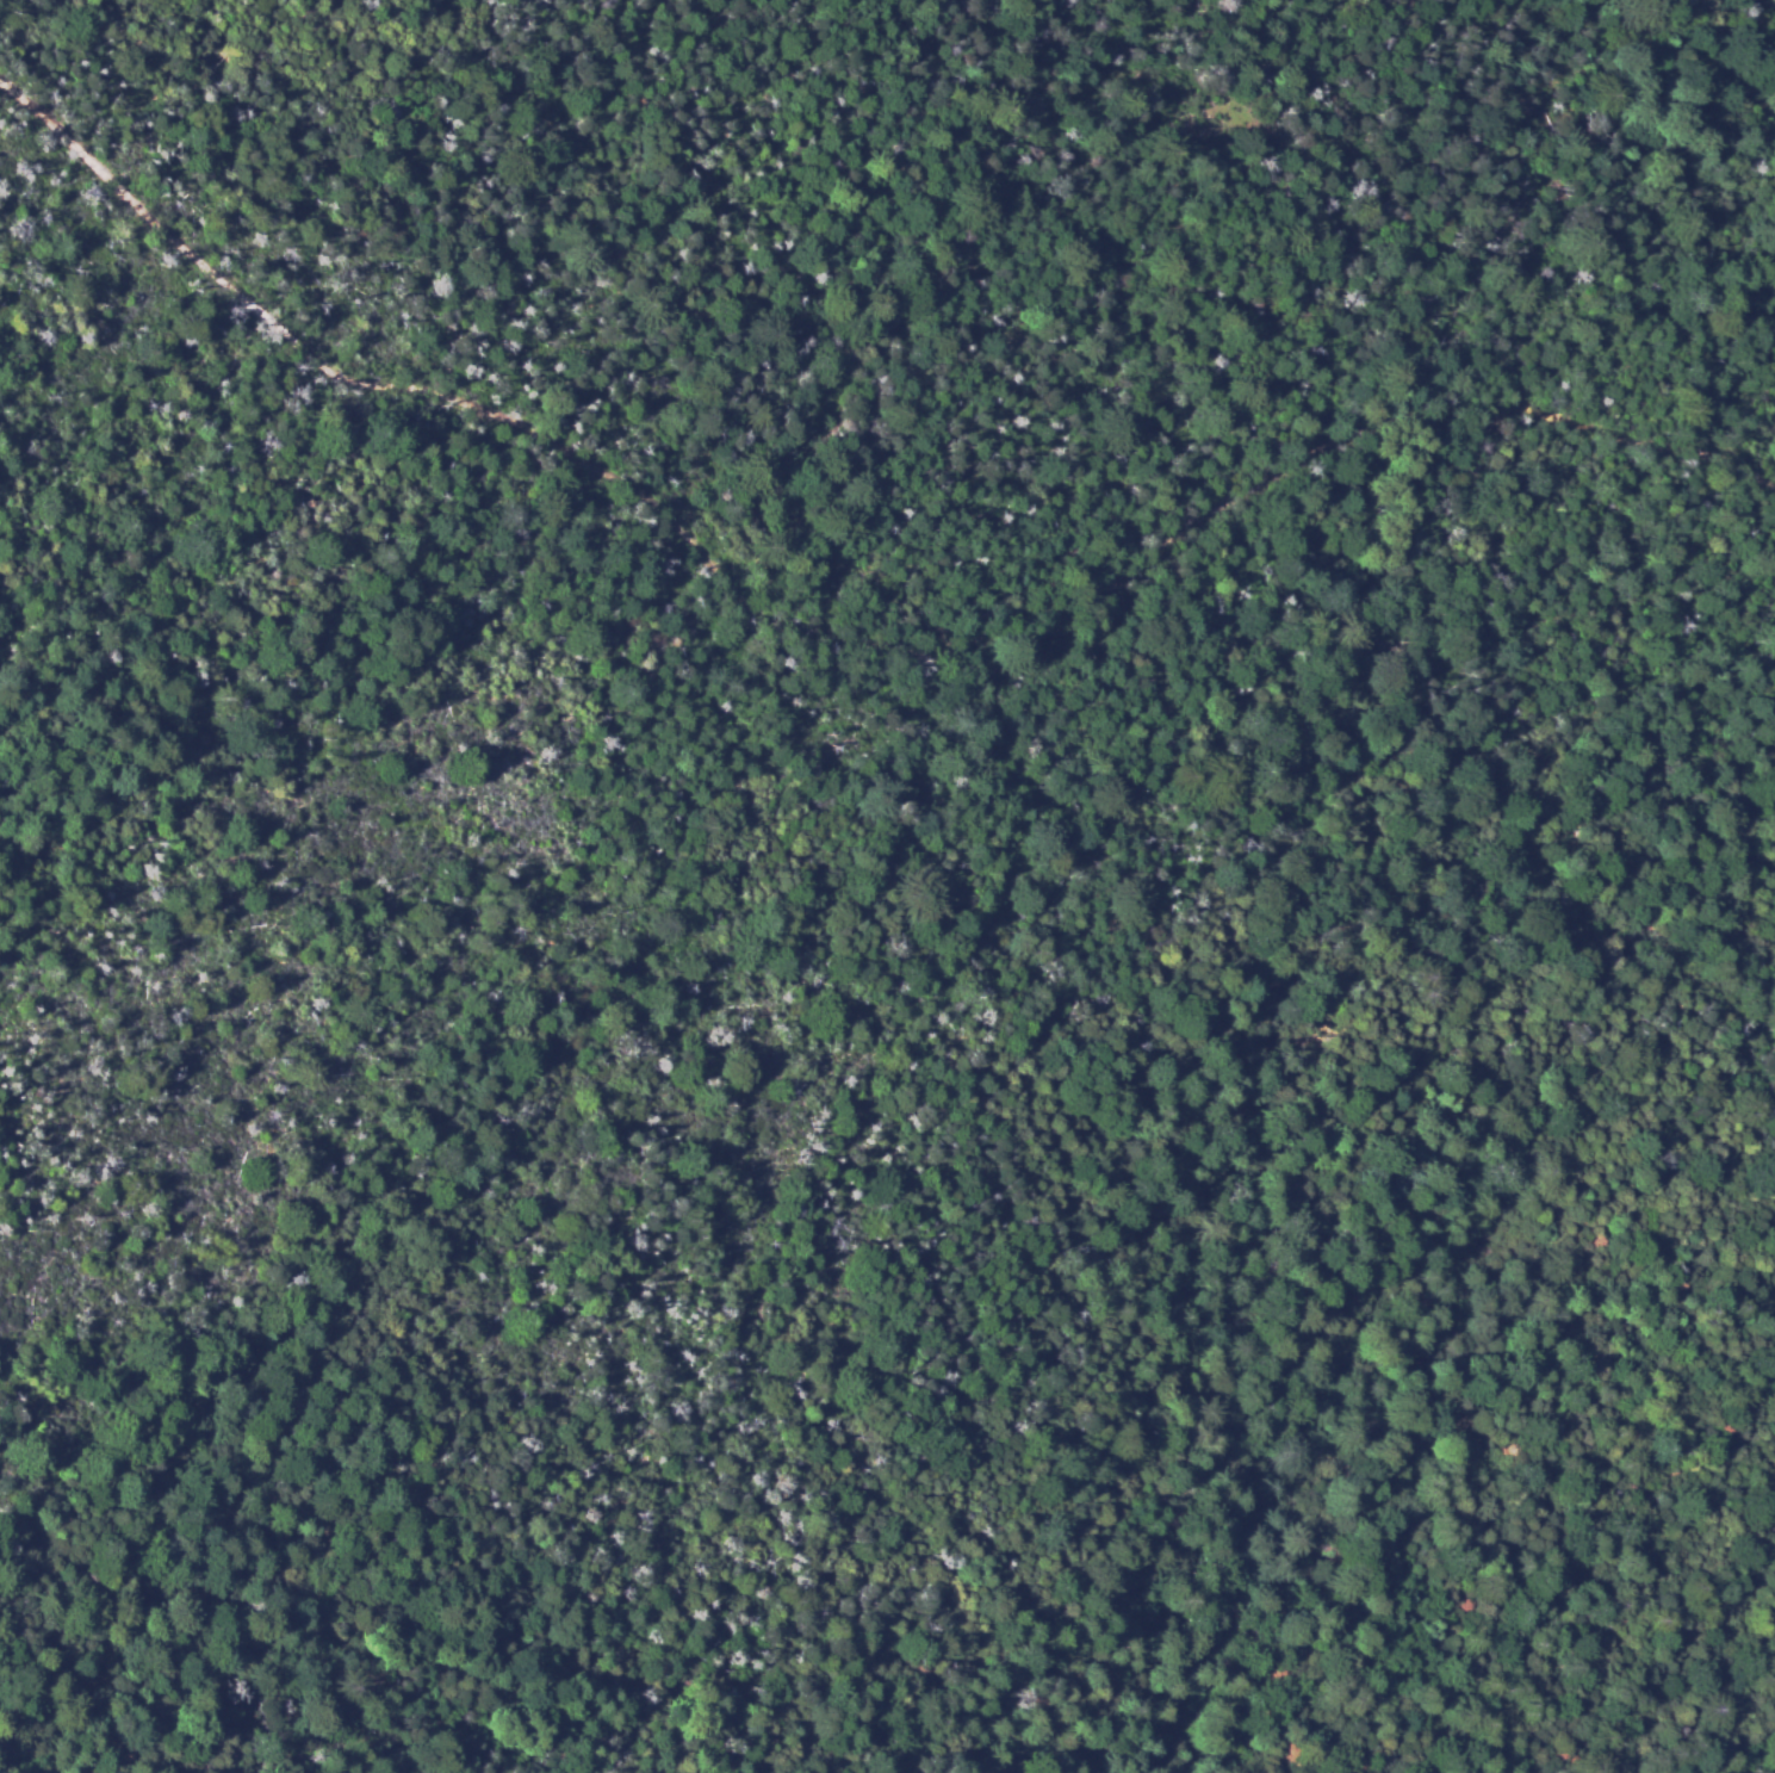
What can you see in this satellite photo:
road: (1754, 20)
road: (837, 631)

